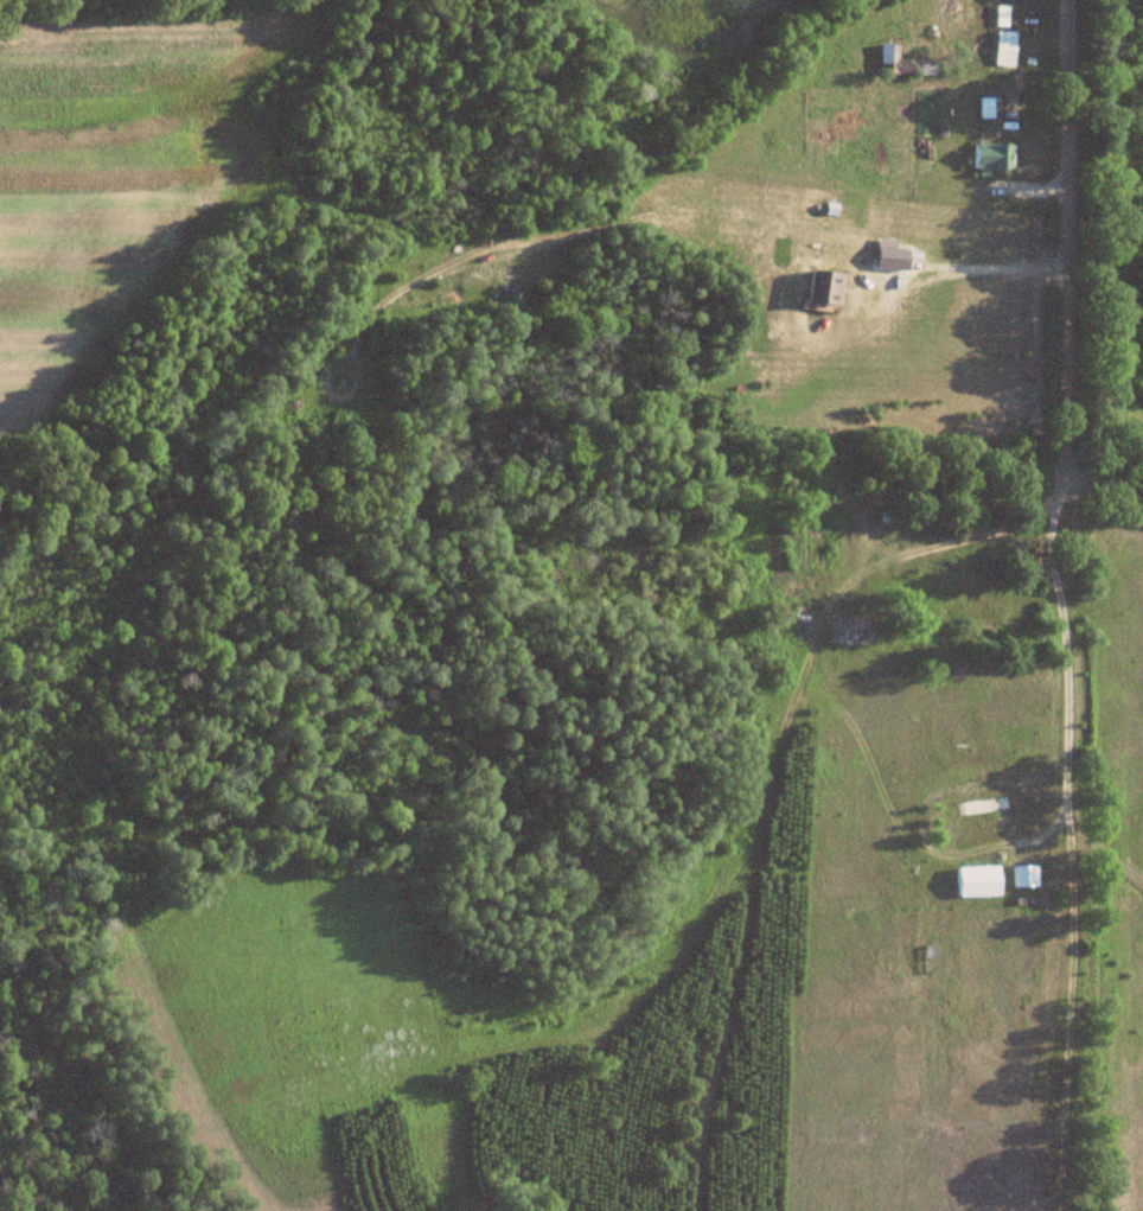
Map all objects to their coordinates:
building: (1002, 47)
building: (902, 63)
building: (990, 155)
road: (1067, 222)
road: (968, 272)
building: (823, 288)
road: (1105, 446)
building: (885, 517)
building: (853, 632)
road: (1061, 793)
building: (984, 807)
building: (1023, 877)
building: (977, 882)

